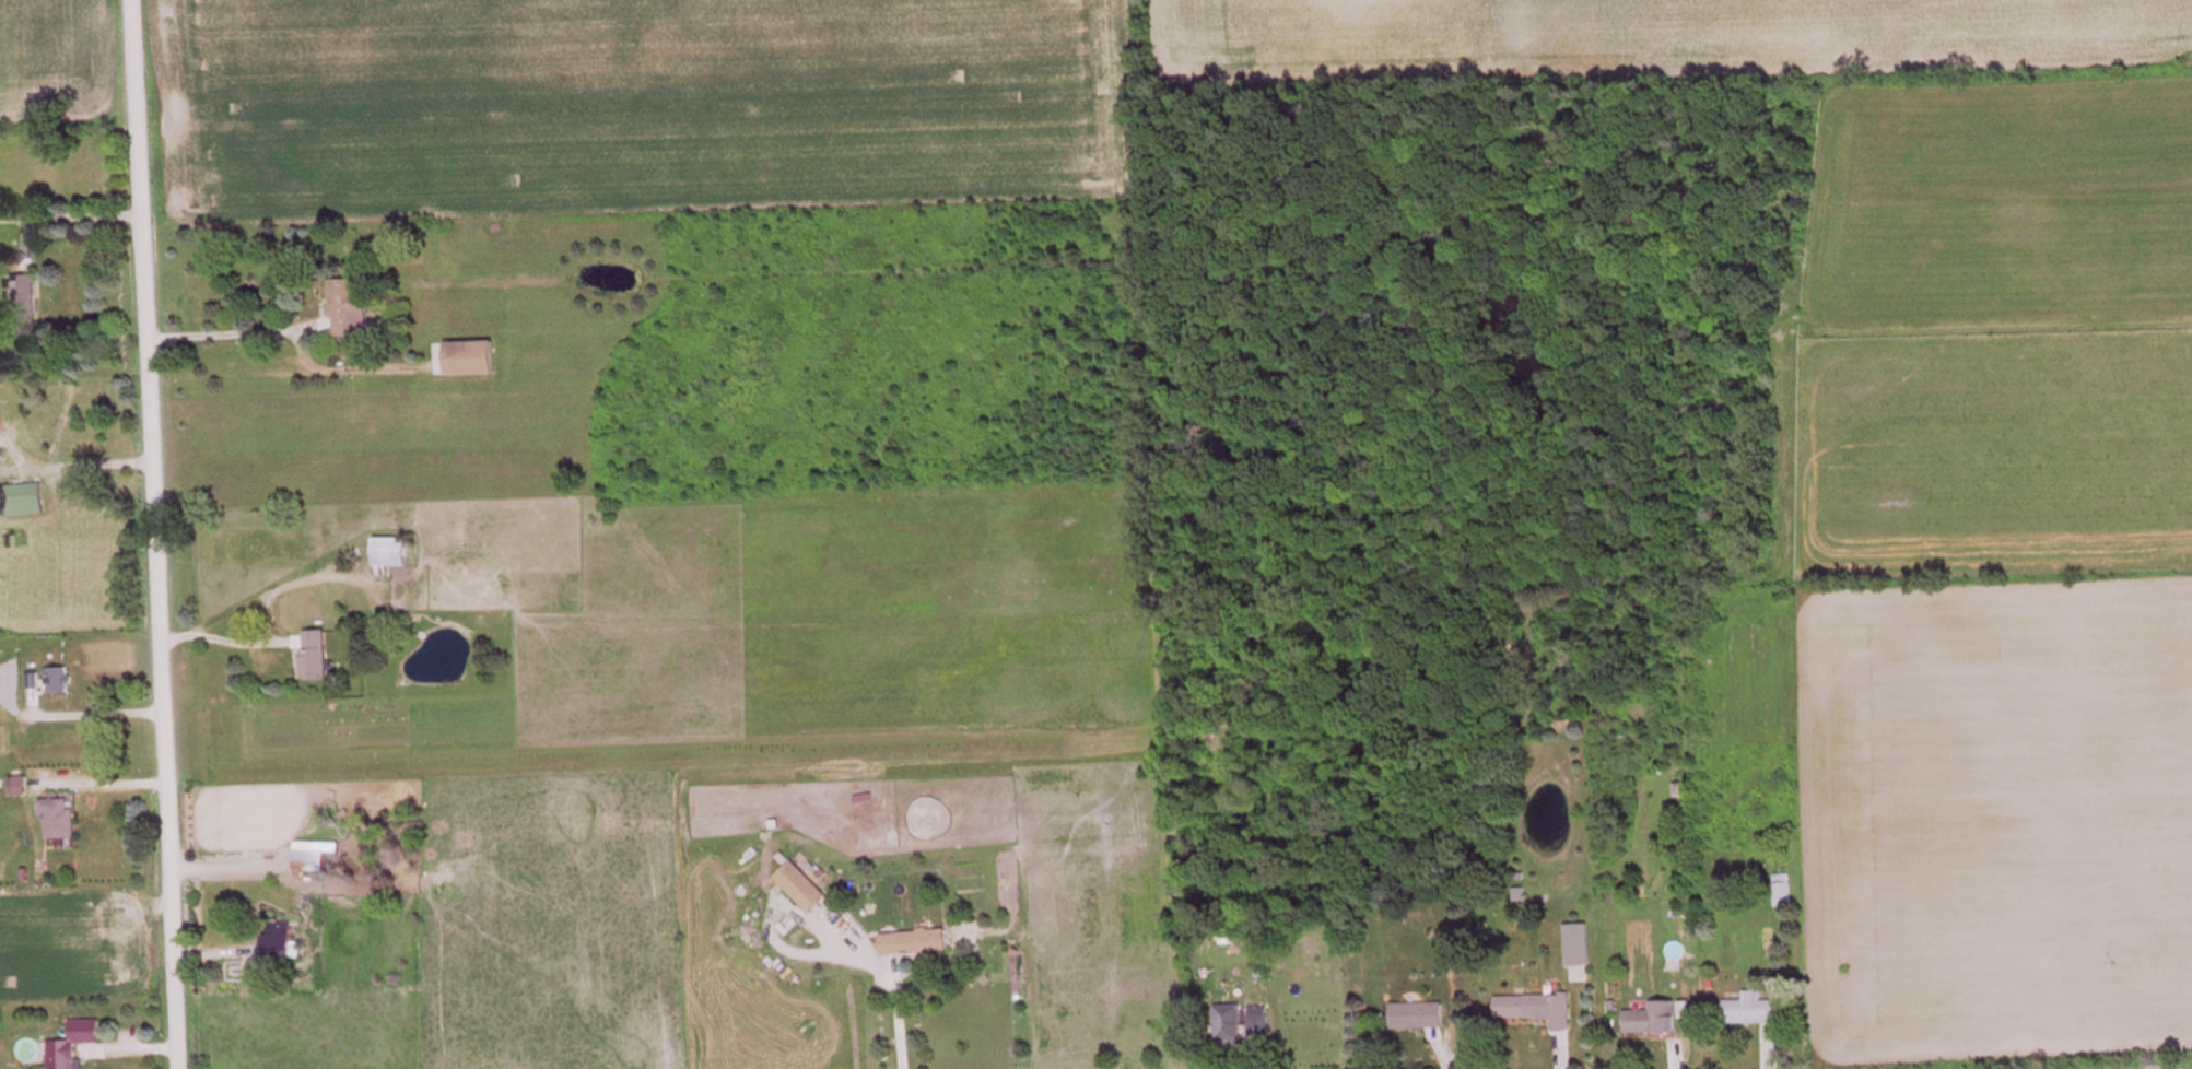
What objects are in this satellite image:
building: (24, 306)
building: (350, 310)
building: (471, 360)
building: (21, 497)
road: (148, 533)
building: (390, 555)
building: (417, 667)
road: (98, 770)
building: (59, 822)
building: (310, 860)
building: (801, 890)
building: (1783, 893)
building: (835, 920)
building: (279, 943)
building: (915, 945)
building: (1579, 954)
road: (899, 984)
building: (1537, 1012)
building: (1755, 1013)
building: (1418, 1019)
building: (1654, 1023)
building: (1258, 1024)
building: (1229, 1025)
building: (75, 1045)

